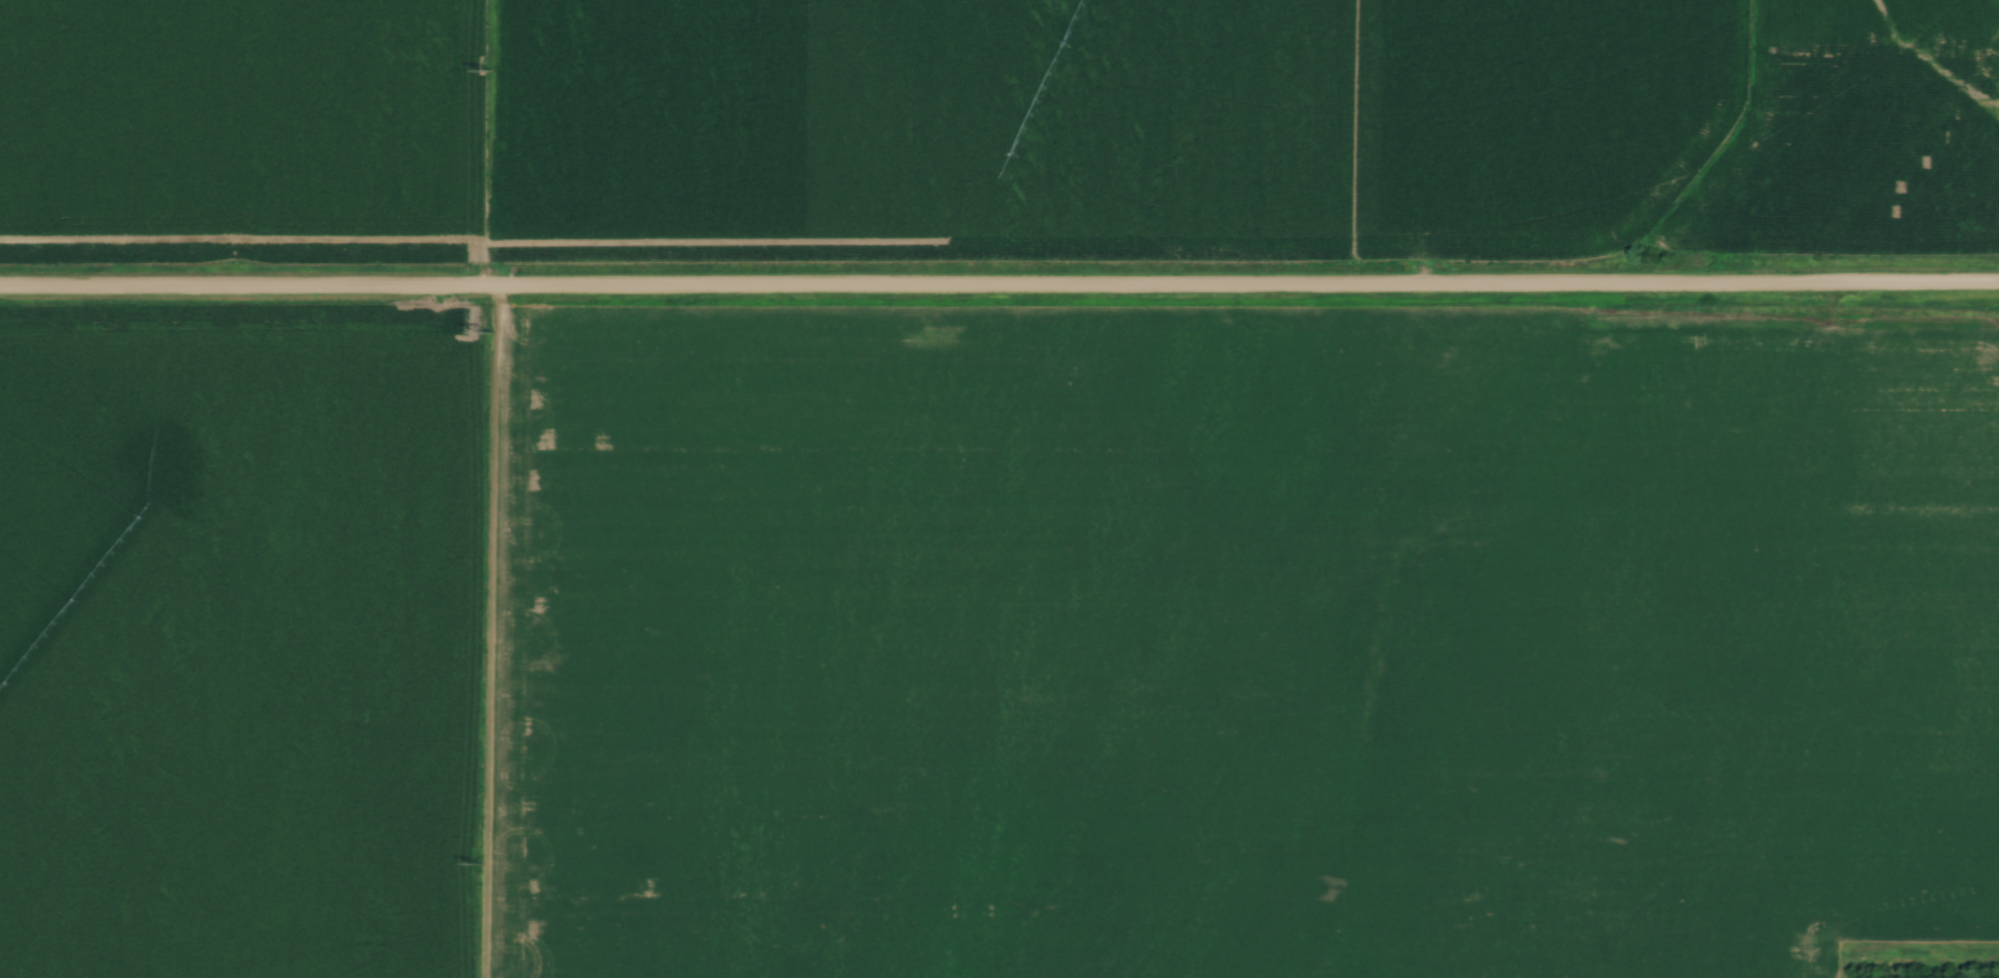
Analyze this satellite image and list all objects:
road: (999, 289)

